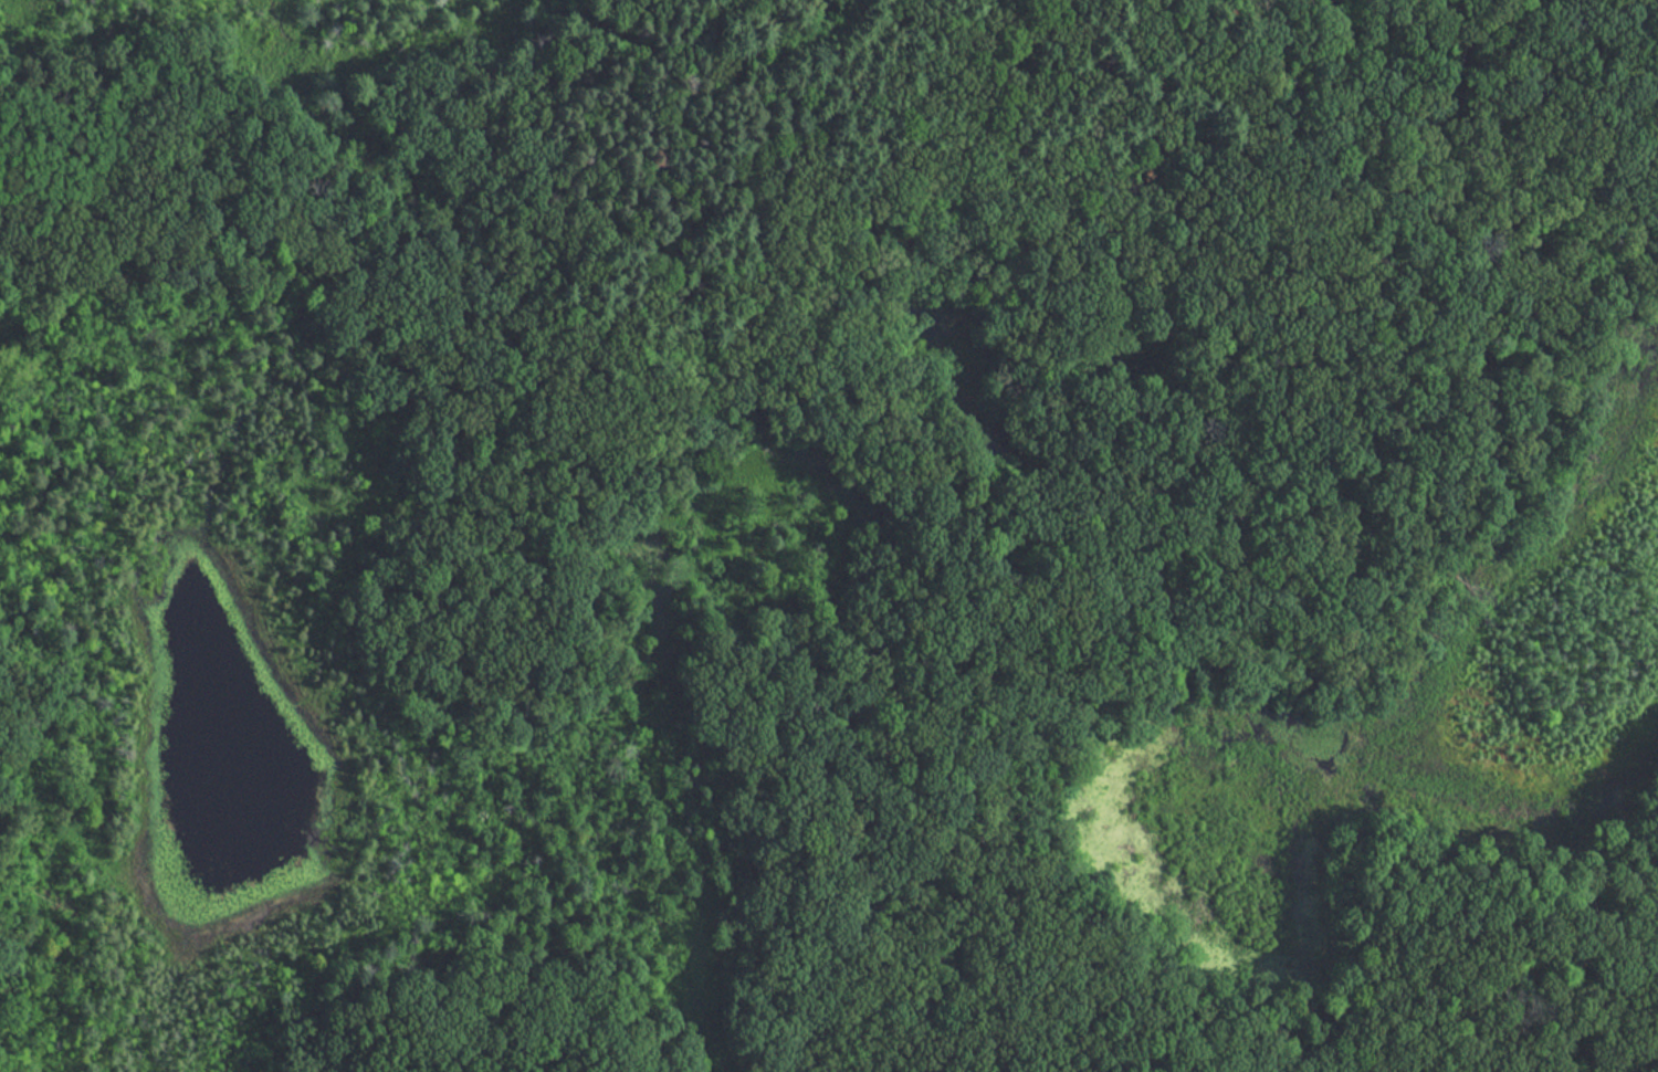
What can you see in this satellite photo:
road: (502, 108)
road: (178, 174)
road: (363, 248)
road: (1156, 475)
park: (829, 536)
road: (1426, 994)

